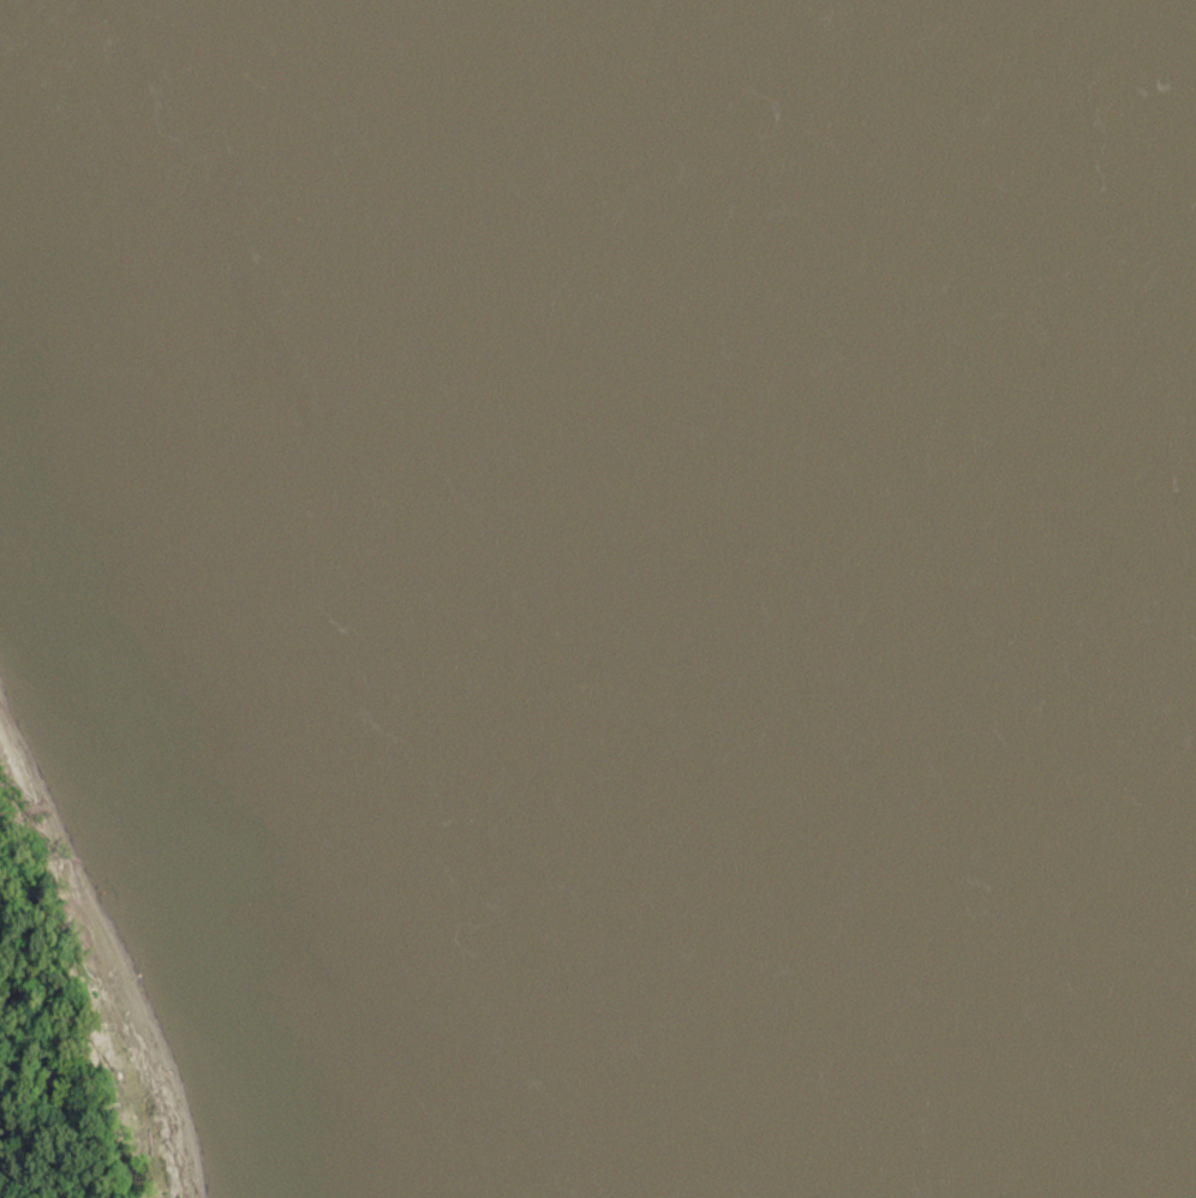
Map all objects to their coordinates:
river: (843, 599)

